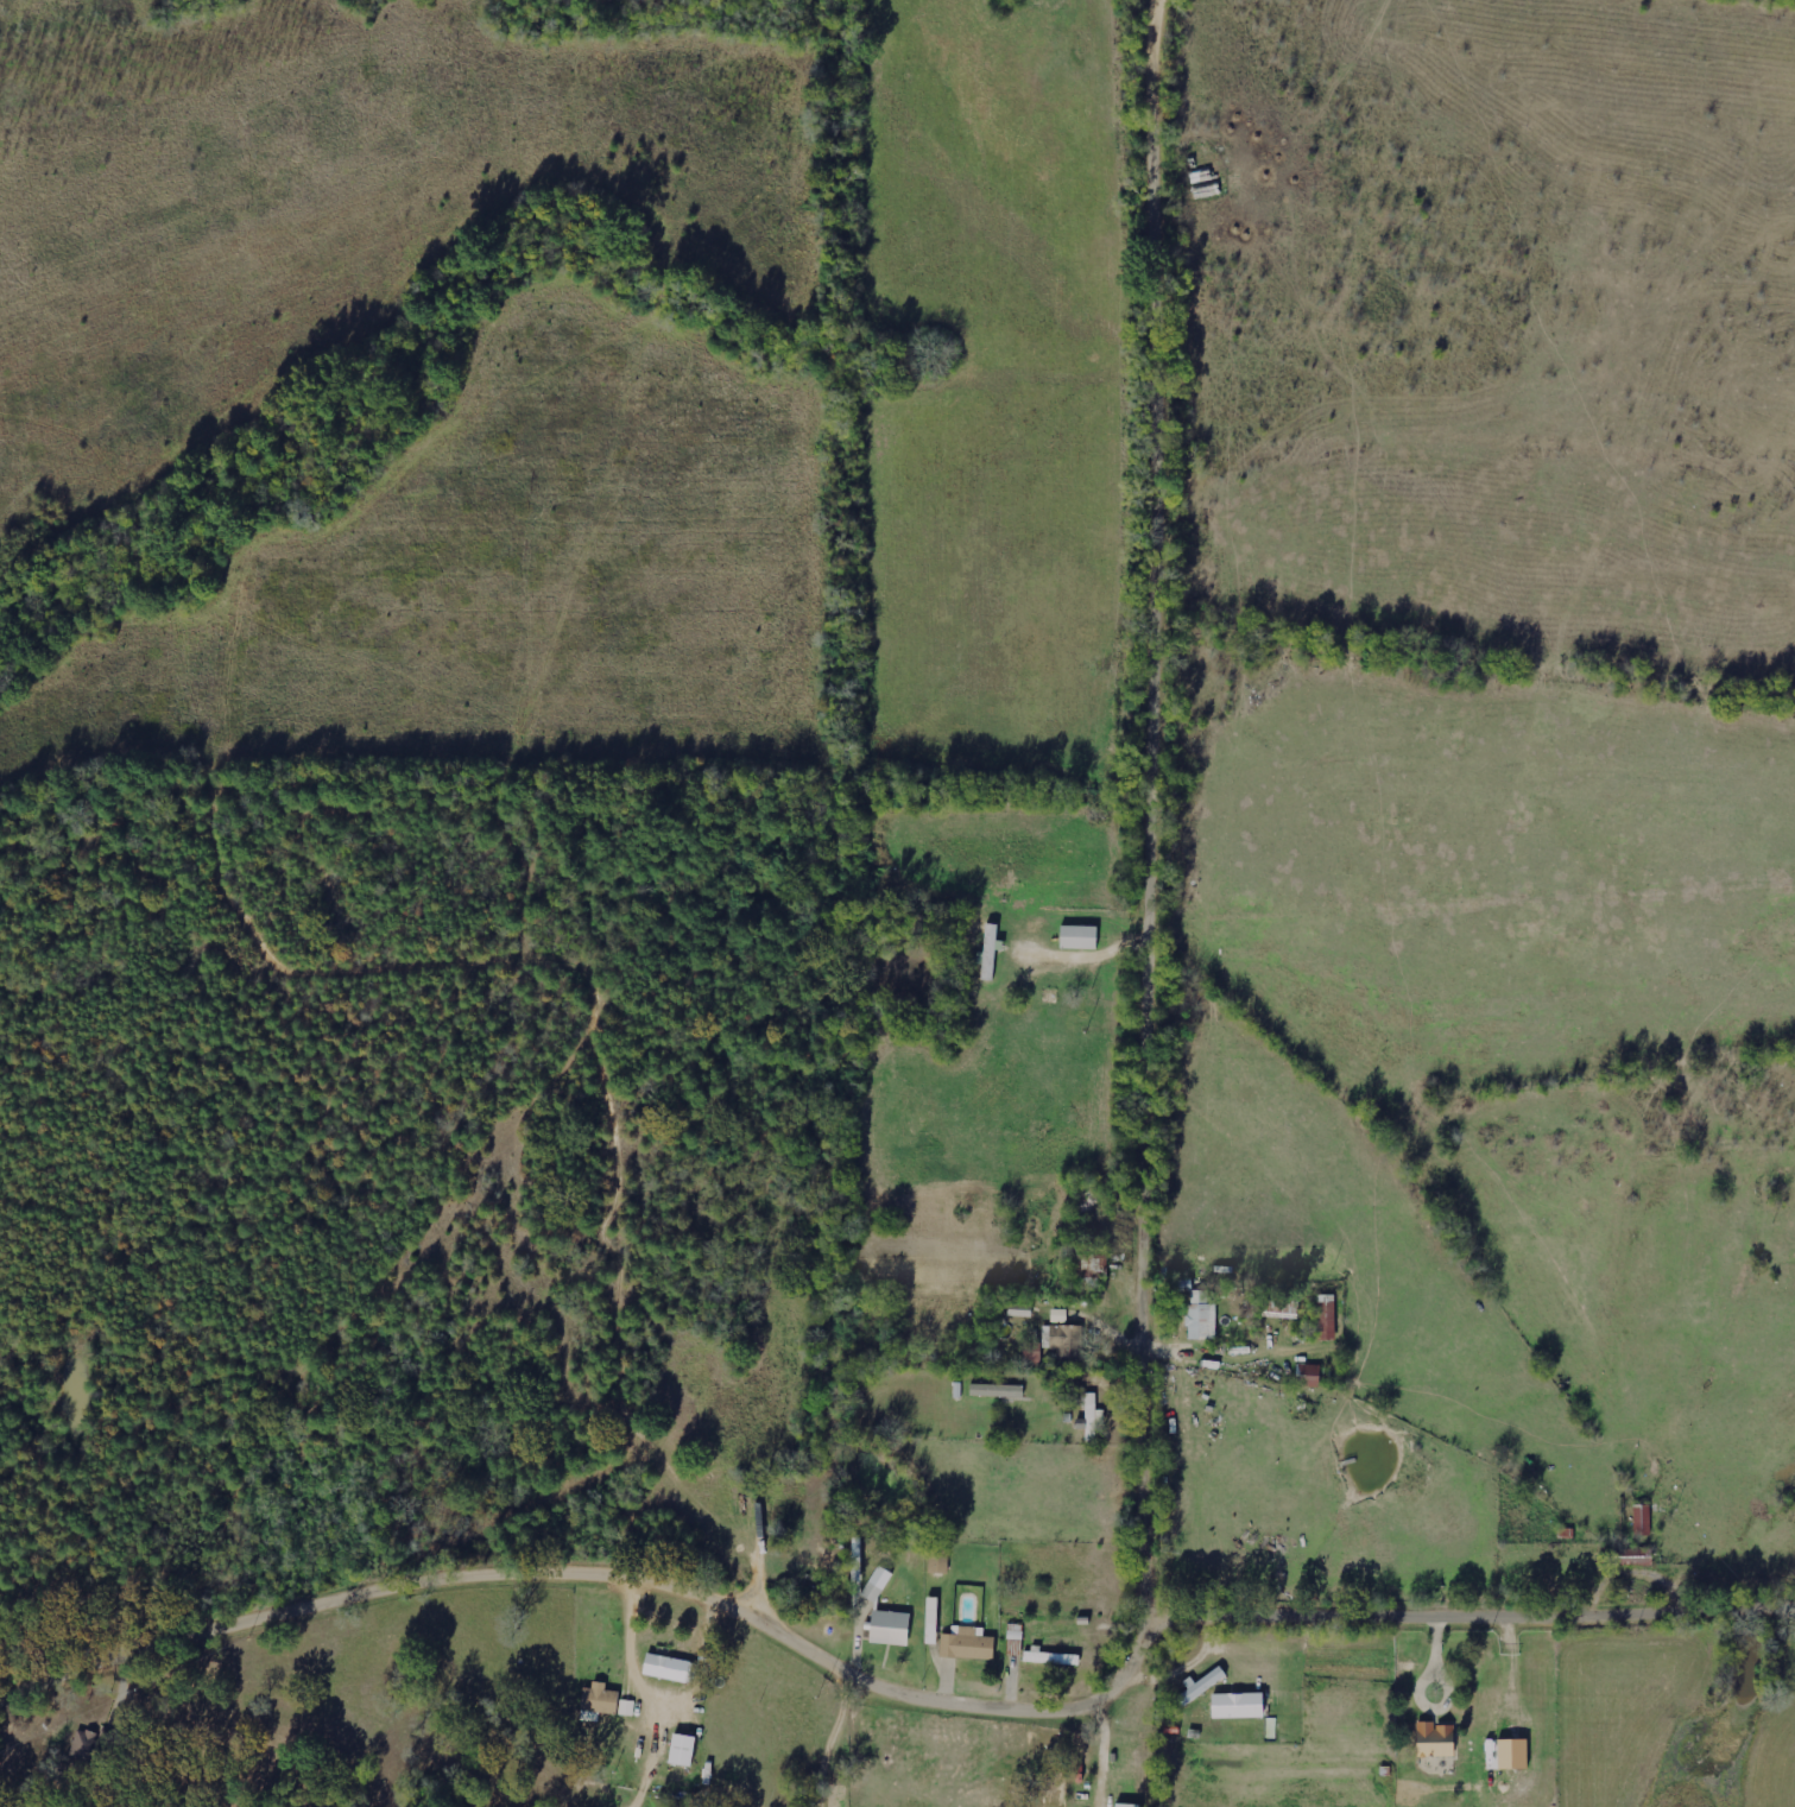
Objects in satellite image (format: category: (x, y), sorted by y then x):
road: (1161, 821)
building: (1081, 936)
building: (1202, 1316)
building: (1328, 1316)
building: (1063, 1338)
building: (1034, 1352)
building: (1310, 1375)
building: (998, 1390)
building: (1643, 1518)
building: (1635, 1556)
building: (940, 1559)
building: (878, 1582)
building: (891, 1626)
building: (968, 1643)
building: (1053, 1656)
building: (671, 1667)
road: (896, 1695)
building: (600, 1701)
building: (1239, 1704)
building: (627, 1706)
building: (1437, 1739)
building: (683, 1749)
building: (1515, 1752)
building: (1129, 1805)

